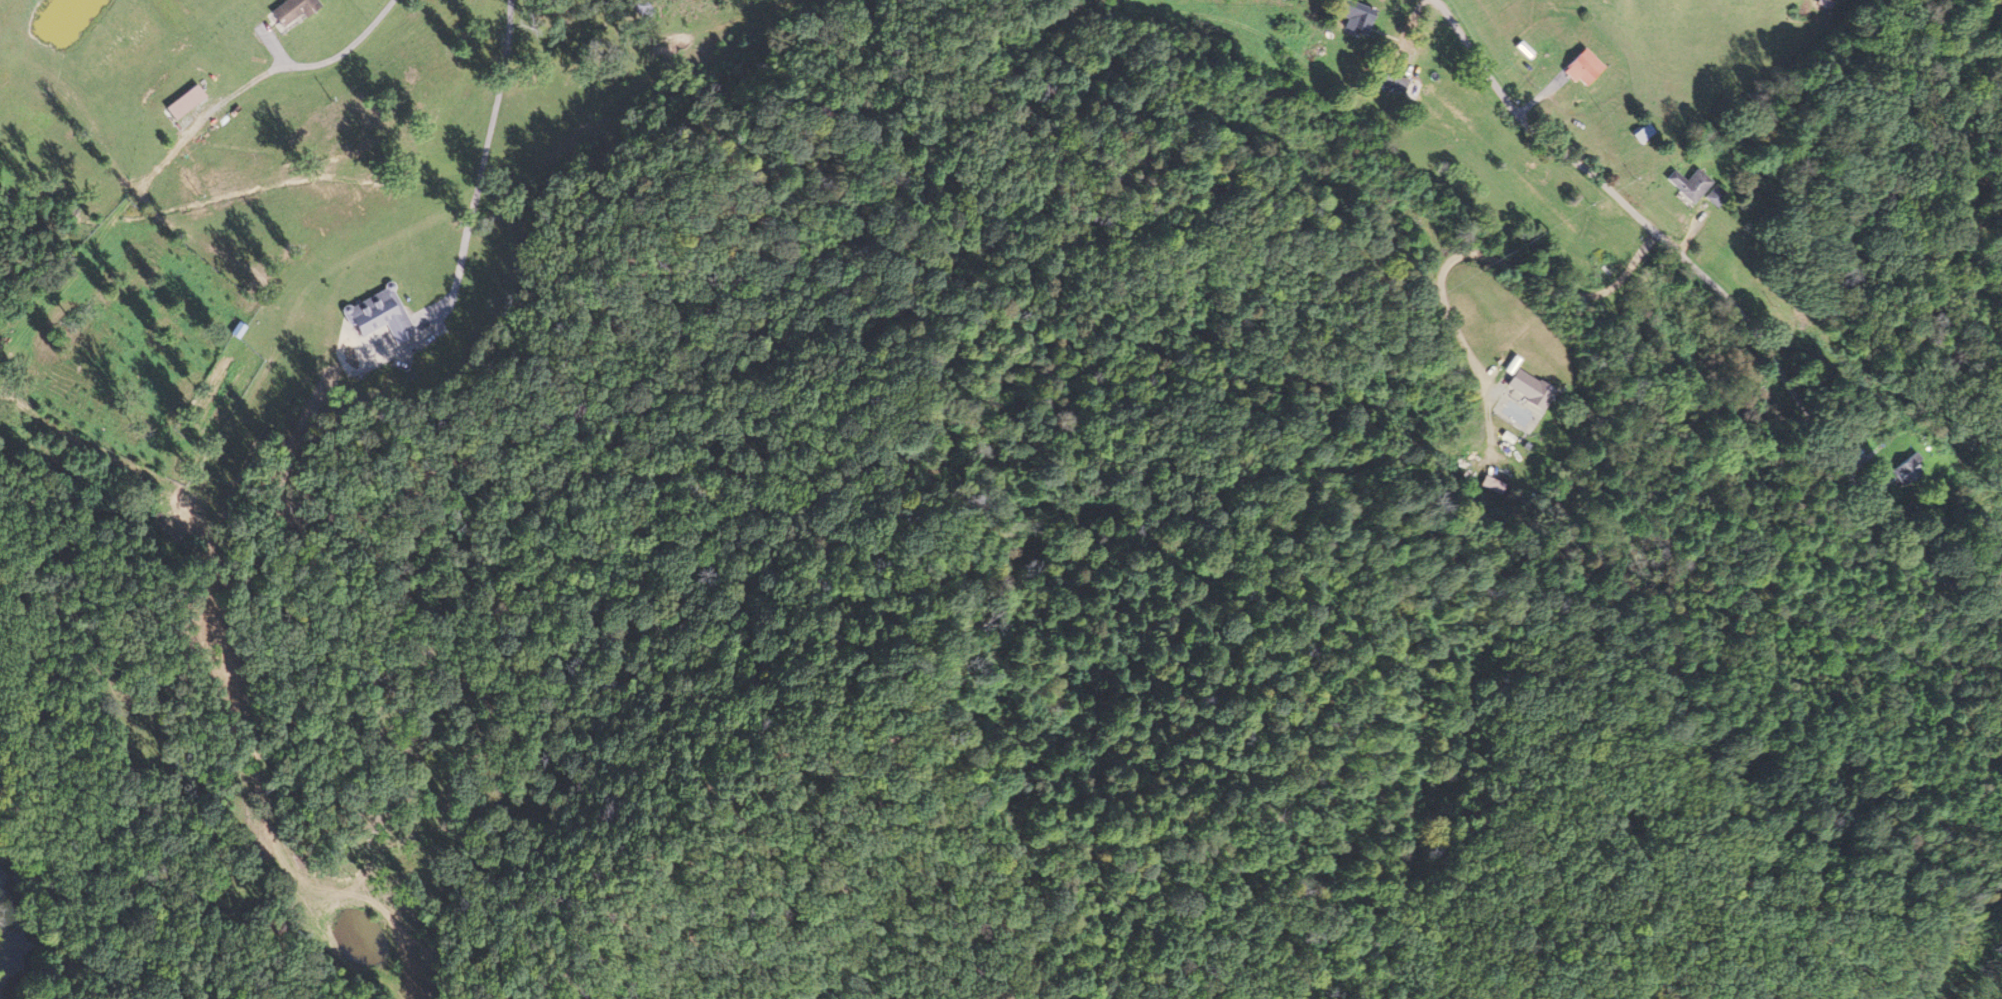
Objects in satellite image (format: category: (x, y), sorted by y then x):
building: (298, 10)
building: (1361, 20)
building: (1587, 68)
building: (190, 101)
building: (1693, 184)
building: (1718, 196)
road: (1729, 298)
building: (386, 316)
building: (1533, 389)
river: (4, 918)

